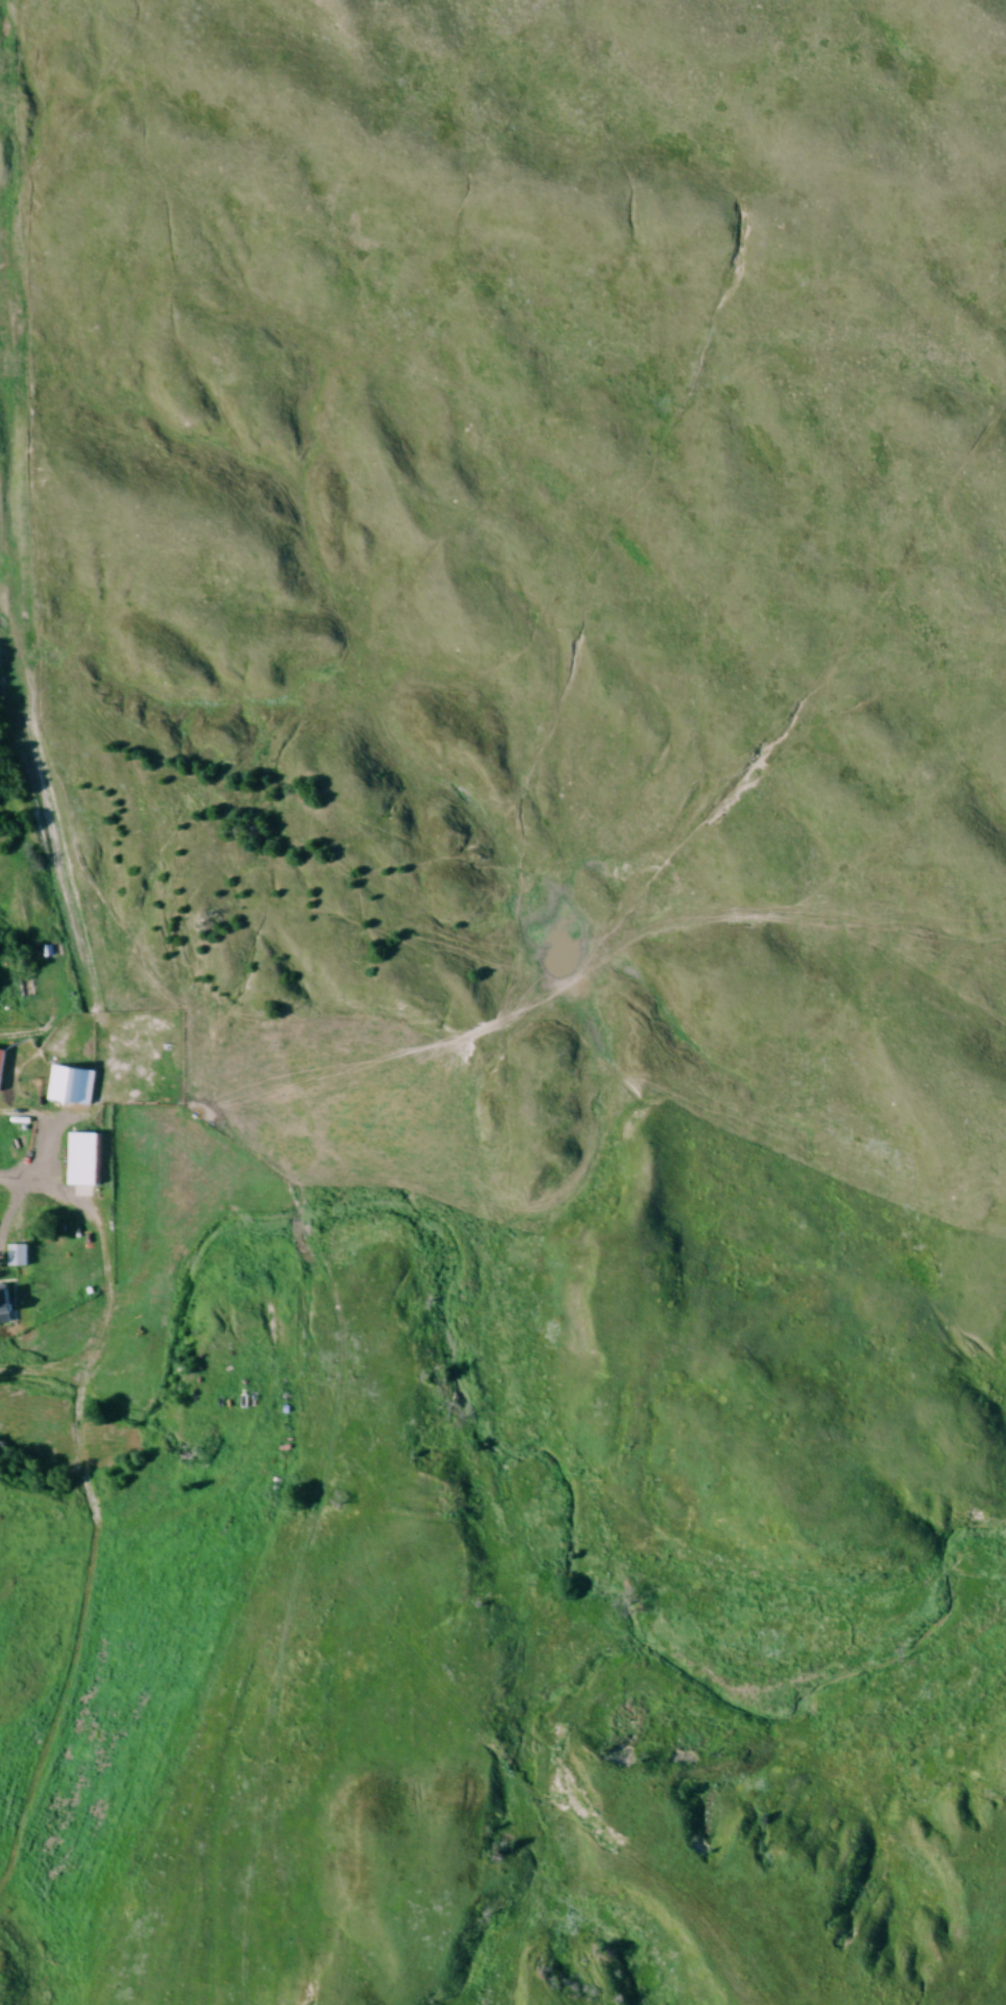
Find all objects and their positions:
building: (2, 1069)
building: (74, 1087)
building: (88, 1160)
road: (42, 1167)
building: (23, 1256)
building: (8, 1307)

